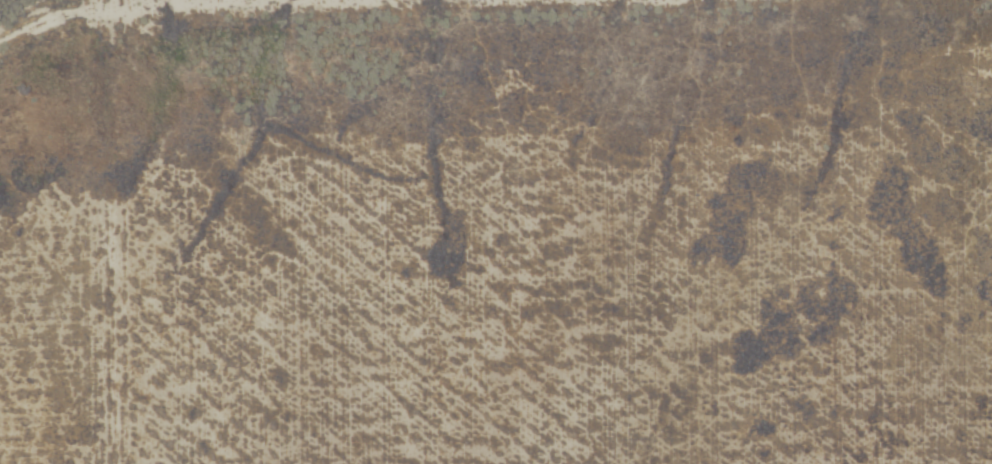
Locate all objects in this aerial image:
crop: (525, 232)

